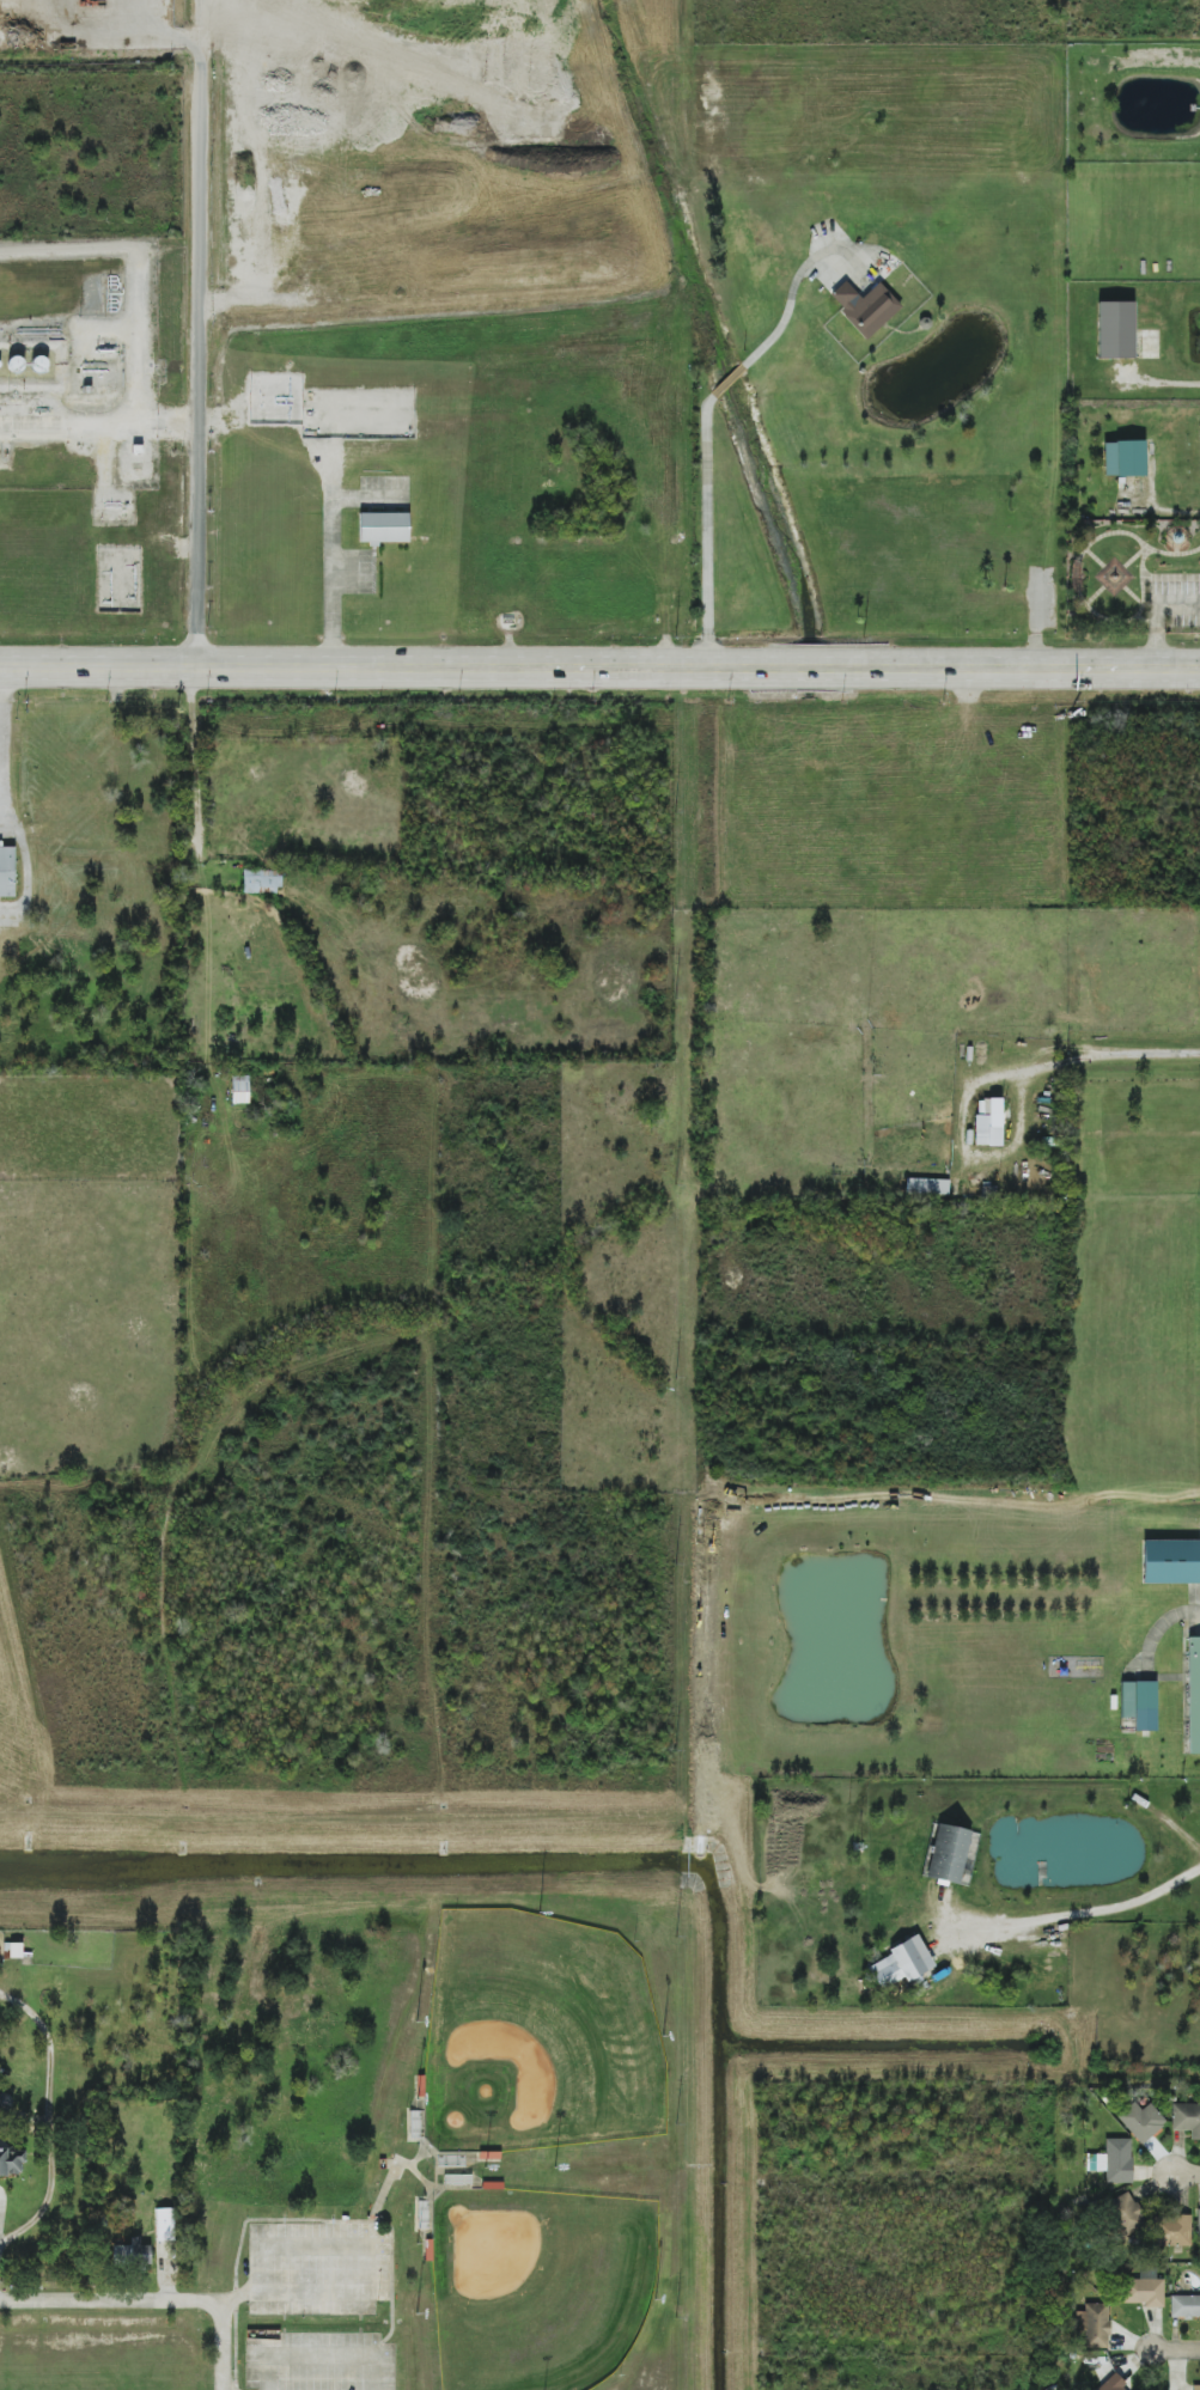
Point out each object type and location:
road: (136, 260)
building: (887, 263)
road: (791, 298)
building: (864, 306)
road: (197, 311)
building: (1115, 329)
road: (730, 380)
road: (1167, 385)
road: (68, 414)
road: (166, 417)
building: (1123, 458)
building: (383, 528)
road: (708, 529)
road: (330, 560)
park: (1133, 575)
road: (1155, 615)
road: (599, 665)
road: (195, 760)
building: (7, 872)
building: (261, 880)
road: (1115, 1055)
building: (239, 1089)
building: (988, 1122)
building: (927, 1187)
building: (1170, 1561)
building: (1193, 1694)
building: (1139, 1703)
building: (948, 1854)
road: (1086, 1910)
street lamp: (540, 1914)
building: (901, 1963)
street lamp: (420, 2022)
park: (537, 2036)
street lamp: (664, 2036)
street lamp: (418, 2102)
building: (1187, 2118)
building: (1141, 2121)
building: (1114, 2160)
building: (11, 2162)
street lamp: (556, 2164)
street lamp: (485, 2171)
road: (1183, 2175)
road: (2, 2209)
building: (1123, 2214)
building: (1198, 2221)
building: (164, 2225)
building: (1171, 2230)
street lamp: (418, 2246)
building: (132, 2254)
road: (368, 2262)
park: (538, 2286)
building: (1143, 2290)
road: (111, 2301)
street lamp: (654, 2304)
building: (1184, 2306)
street lamp: (418, 2316)
building: (1094, 2325)
road: (223, 2346)
road: (1170, 2348)
road: (319, 2354)
building: (1111, 2384)
building: (1195, 2386)

